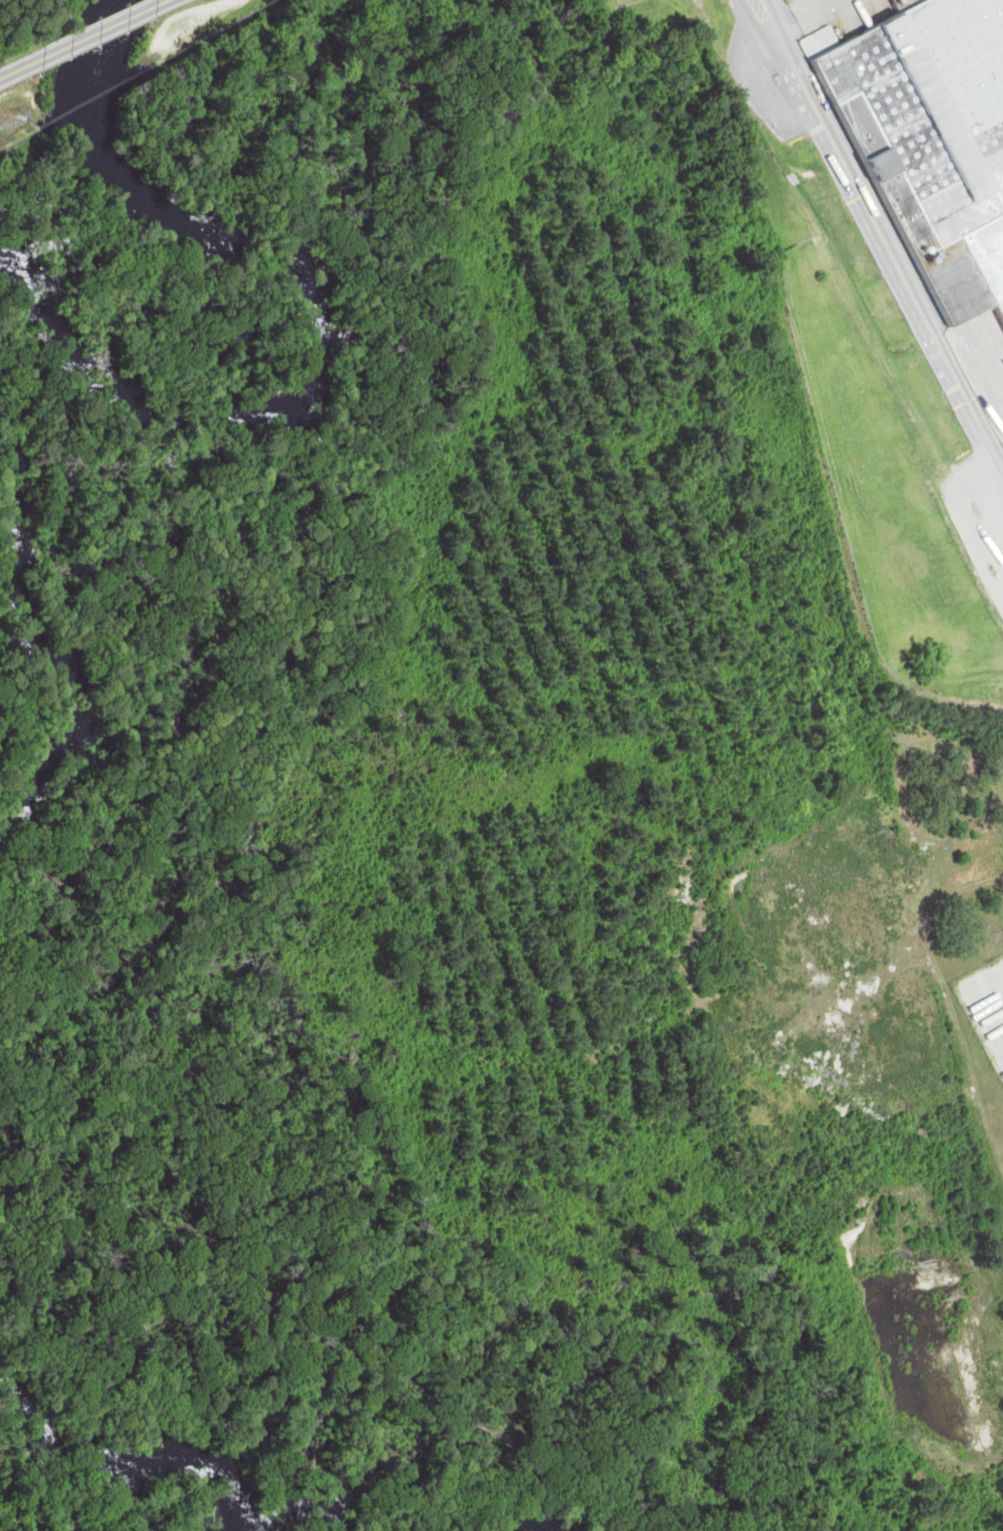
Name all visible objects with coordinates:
road: (175, 0)
road: (108, 31)
road: (21, 70)
building: (937, 119)
road: (882, 234)
railway: (1000, 325)
river: (334, 332)
river: (65, 654)
river: (141, 1433)
river: (312, 1508)
river: (549, 1521)

